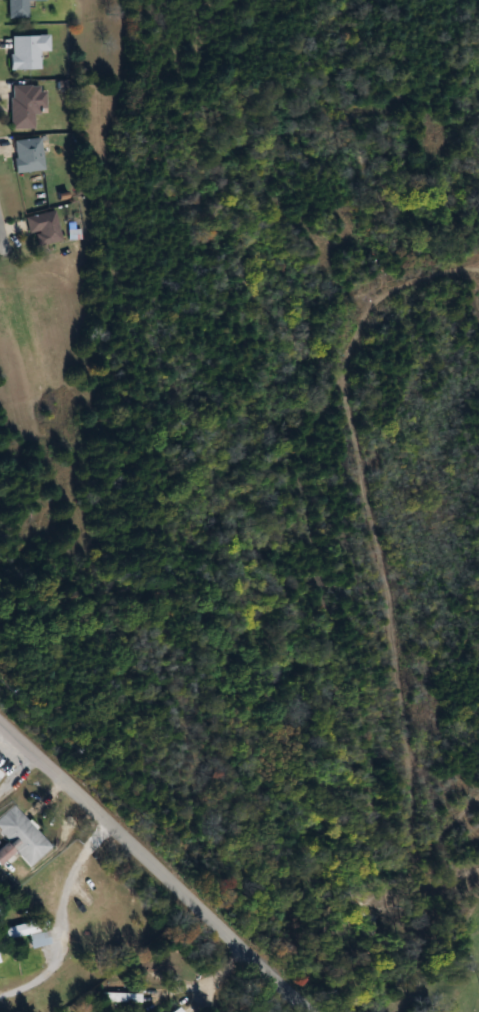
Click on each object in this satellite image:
building: (14, 9)
building: (24, 51)
building: (20, 106)
building: (24, 155)
building: (40, 227)
road: (2, 239)
building: (0, 774)
building: (20, 838)
road: (152, 866)
road: (57, 916)
building: (26, 932)
road: (217, 977)
building: (115, 997)
building: (173, 1010)

